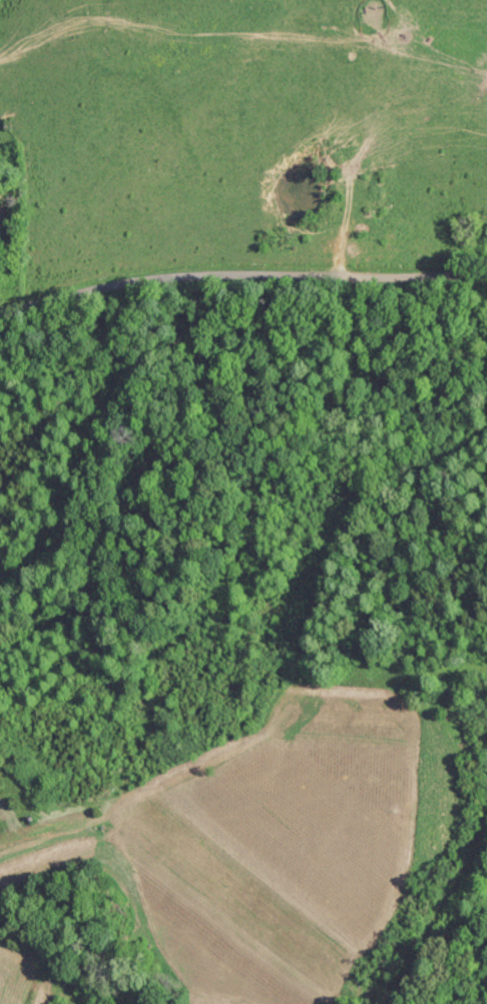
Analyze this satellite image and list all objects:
road: (241, 276)

